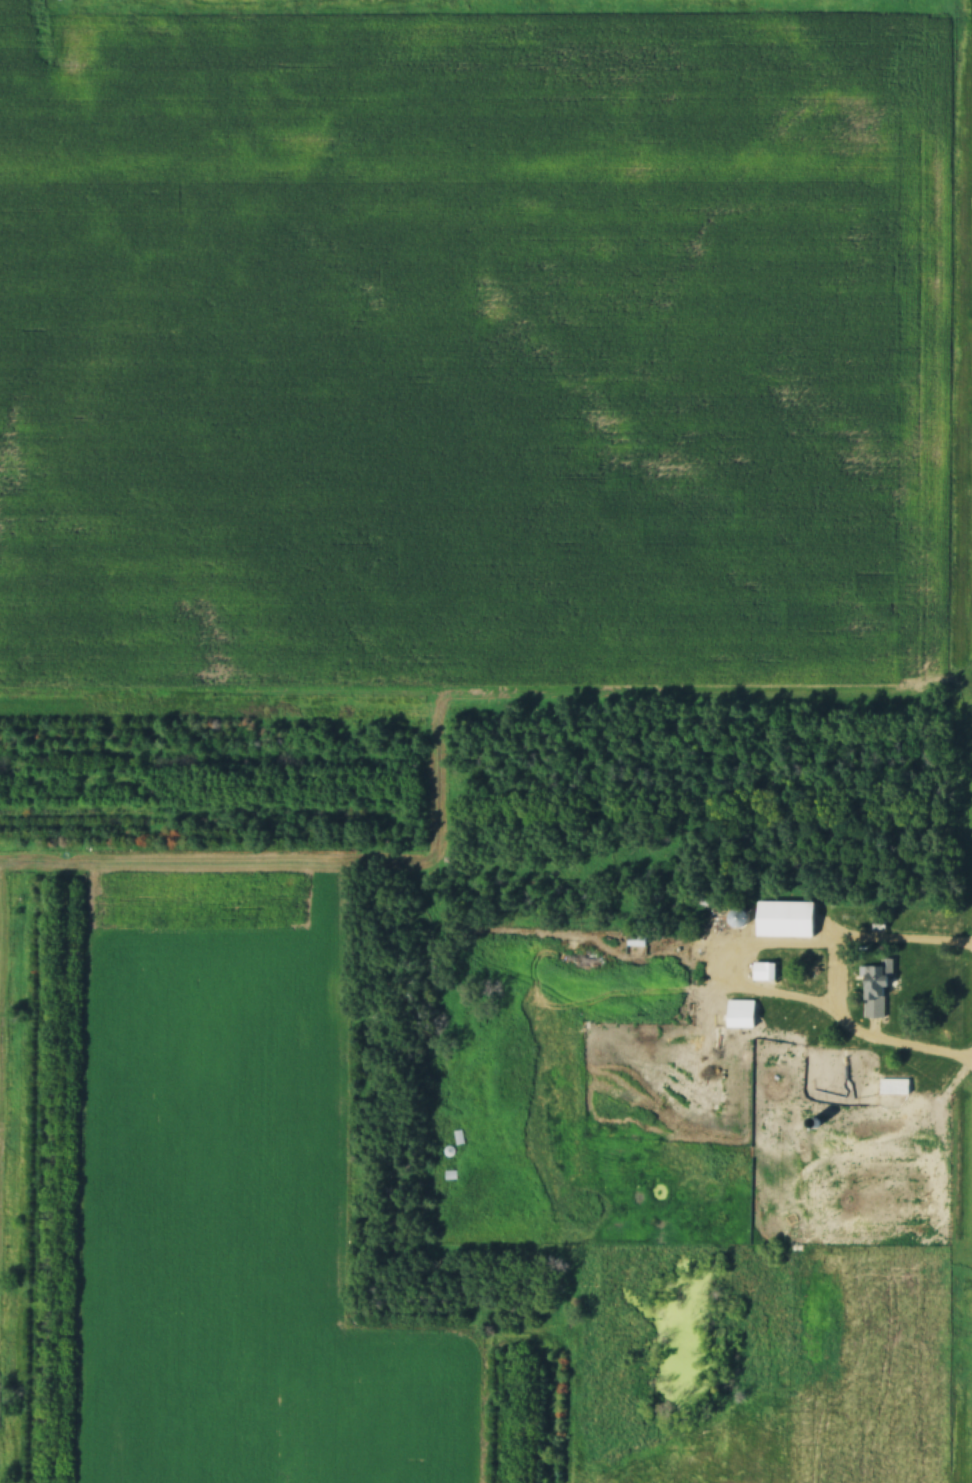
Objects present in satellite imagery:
building: (787, 919)
building: (638, 941)
building: (765, 971)
road: (829, 972)
building: (876, 992)
building: (743, 1013)
building: (895, 1085)

